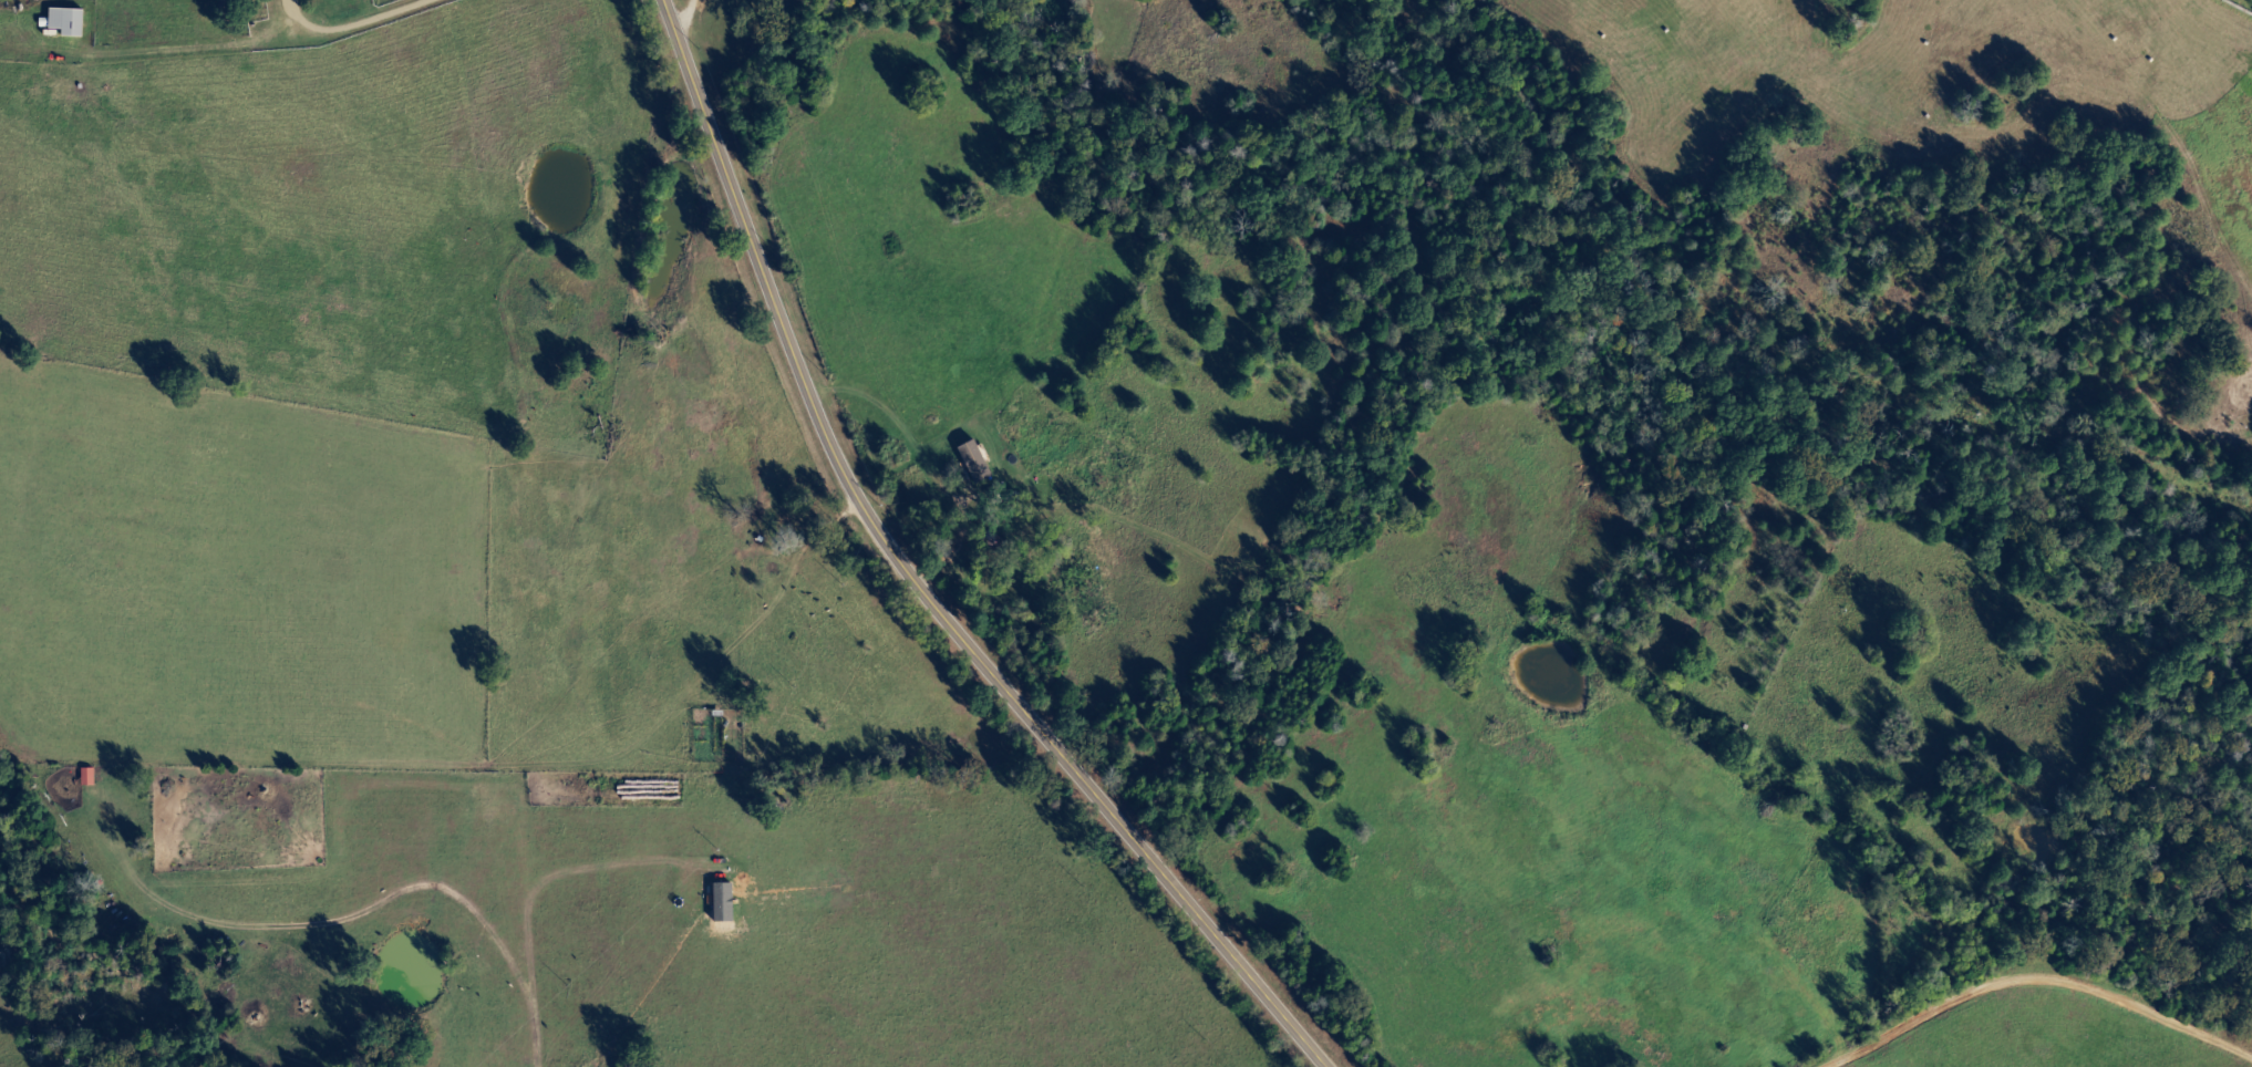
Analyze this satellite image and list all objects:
park: (1145, 1)
road: (683, 20)
building: (68, 22)
road: (915, 581)
building: (89, 778)
road: (2023, 953)

